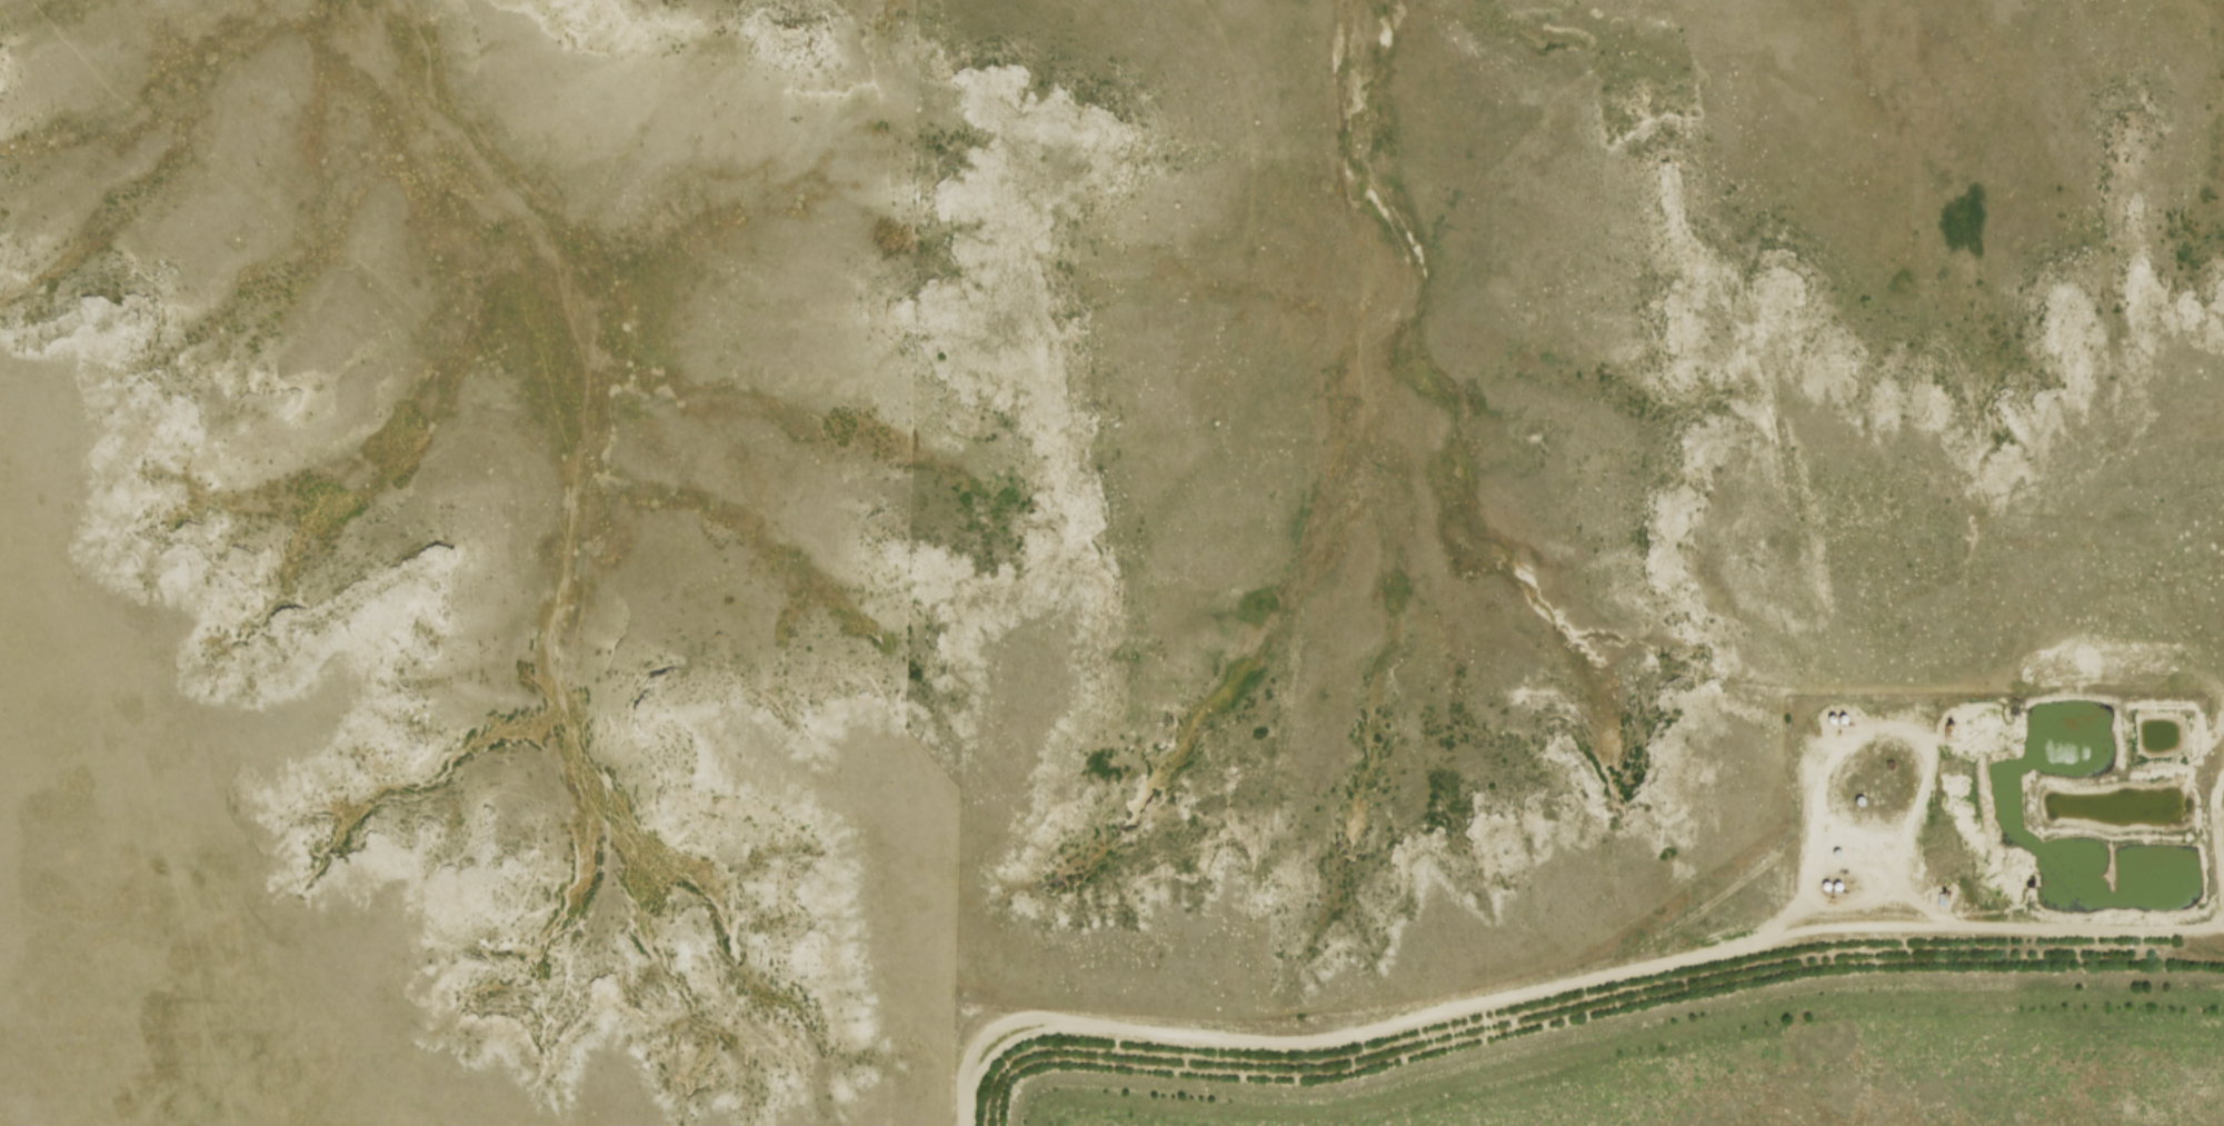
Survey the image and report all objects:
building: (1839, 716)
storage tank: (1839, 716)
building: (1853, 717)
storage tank: (1853, 717)
road: (1875, 726)
road: (2220, 823)
building: (1835, 883)
storage tank: (1835, 883)
building: (1848, 884)
storage tank: (1848, 884)
road: (1635, 966)
road: (985, 1052)

